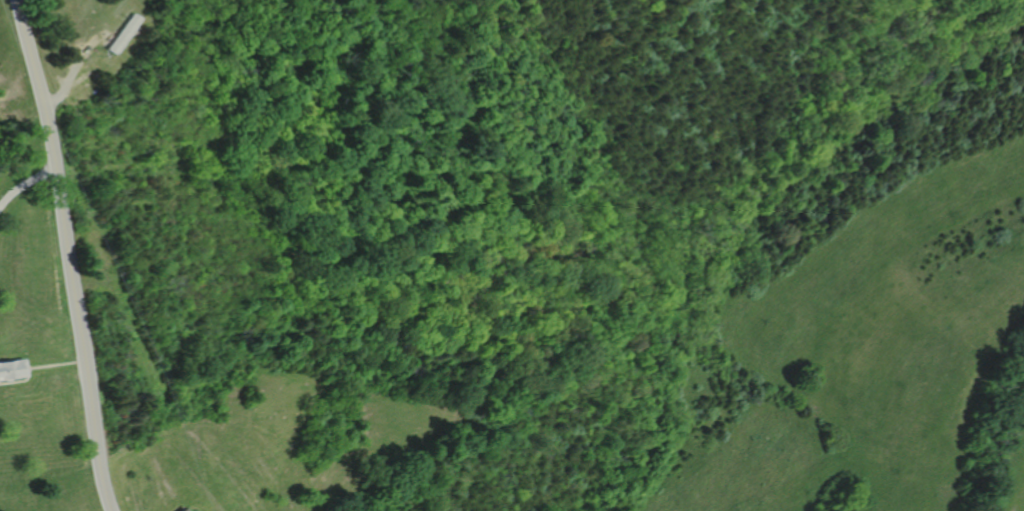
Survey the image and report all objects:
building: (122, 33)
road: (69, 80)
road: (25, 182)
road: (69, 254)
road: (54, 364)
building: (12, 369)
road: (18, 381)
building: (181, 510)
building: (185, 510)

